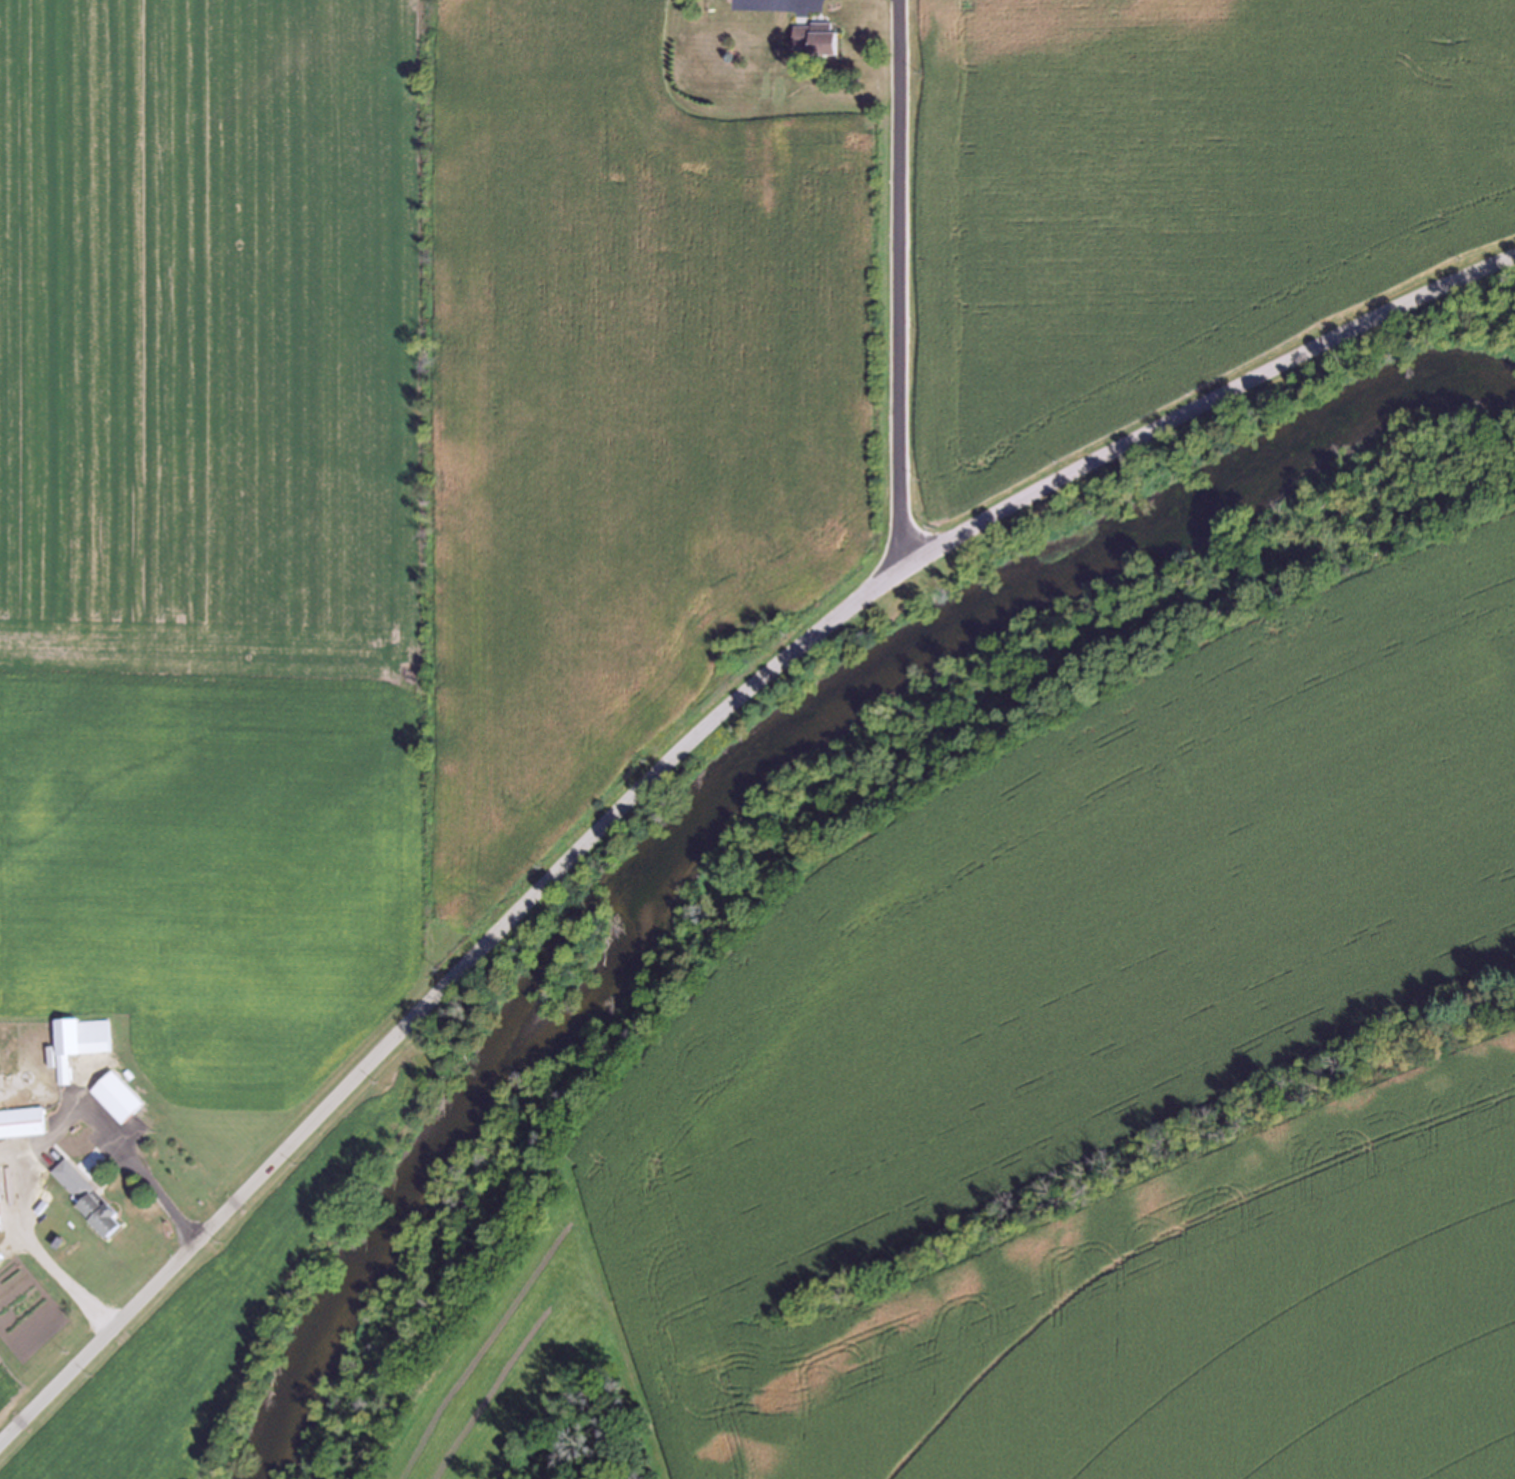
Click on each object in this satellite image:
road: (767, 3)
building: (817, 37)
road: (896, 291)
road: (683, 755)
river: (752, 777)
building: (80, 1041)
building: (116, 1097)
building: (22, 1121)
road: (42, 1142)
building: (87, 1195)
building: (0, 1203)

